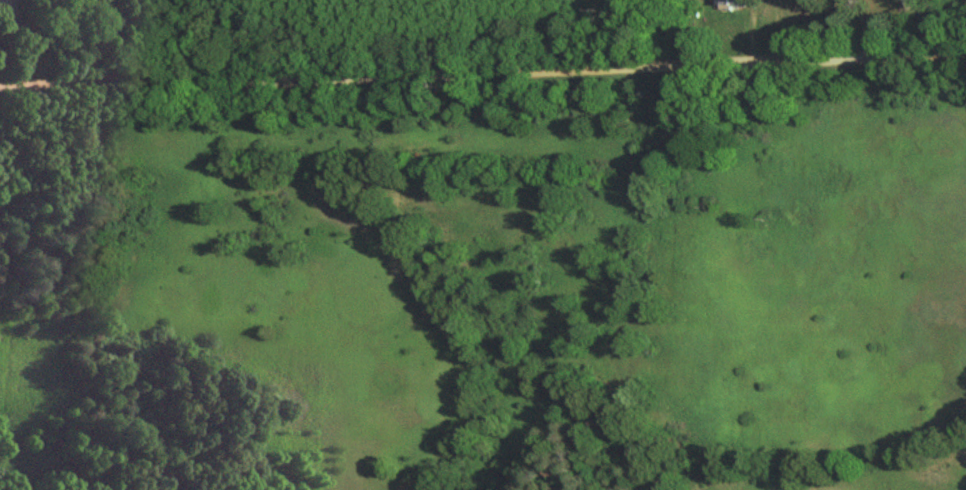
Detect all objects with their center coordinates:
building: (728, 4)
road: (903, 27)
road: (749, 34)
road: (20, 37)
road: (483, 68)

